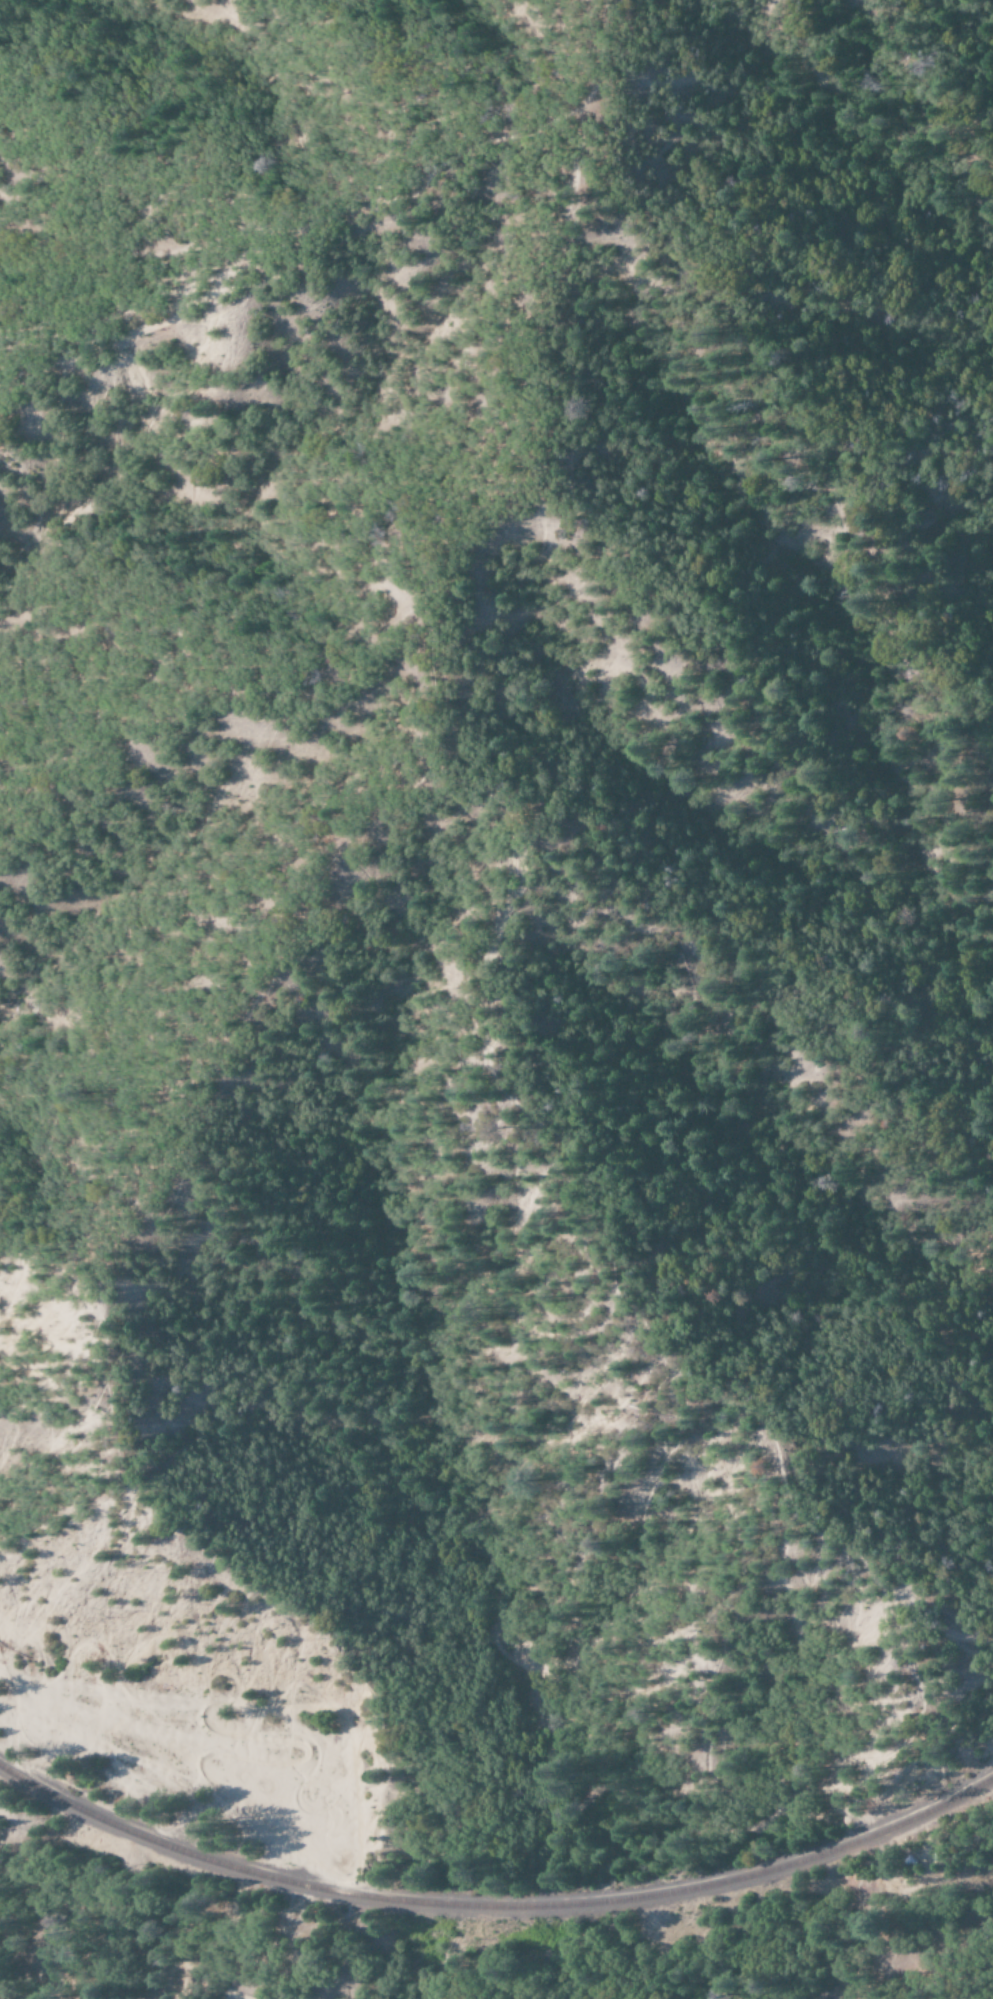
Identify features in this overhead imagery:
railway: (493, 1903)

